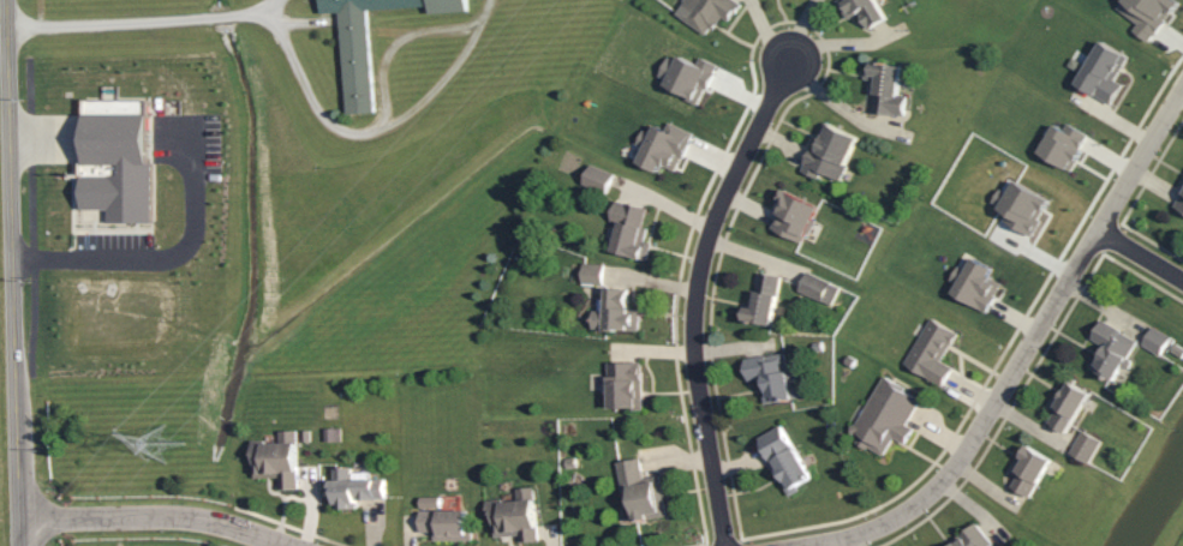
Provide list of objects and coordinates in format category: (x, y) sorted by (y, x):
building: (861, 11)
road: (255, 12)
building: (705, 12)
road: (222, 14)
building: (1145, 14)
road: (108, 19)
building: (360, 65)
building: (1100, 70)
building: (686, 76)
building: (884, 88)
road: (369, 130)
building: (1060, 144)
parking lot: (189, 145)
building: (662, 146)
building: (829, 151)
building: (116, 157)
road: (297, 162)
building: (1179, 200)
building: (1018, 206)
building: (791, 215)
building: (628, 230)
road: (1137, 256)
road: (136, 259)
road: (13, 272)
building: (592, 274)
building: (973, 283)
building: (818, 289)
road: (694, 296)
building: (761, 300)
building: (616, 311)
building: (1154, 340)
road: (1021, 348)
building: (1109, 349)
building: (928, 350)
building: (767, 377)
building: (623, 384)
building: (1065, 403)
building: (883, 415)
building: (1083, 445)
power tower: (166, 446)
building: (276, 458)
building: (783, 458)
building: (1026, 469)
building: (353, 487)
building: (639, 492)
building: (513, 515)
road: (154, 517)
building: (446, 524)
building: (969, 536)

